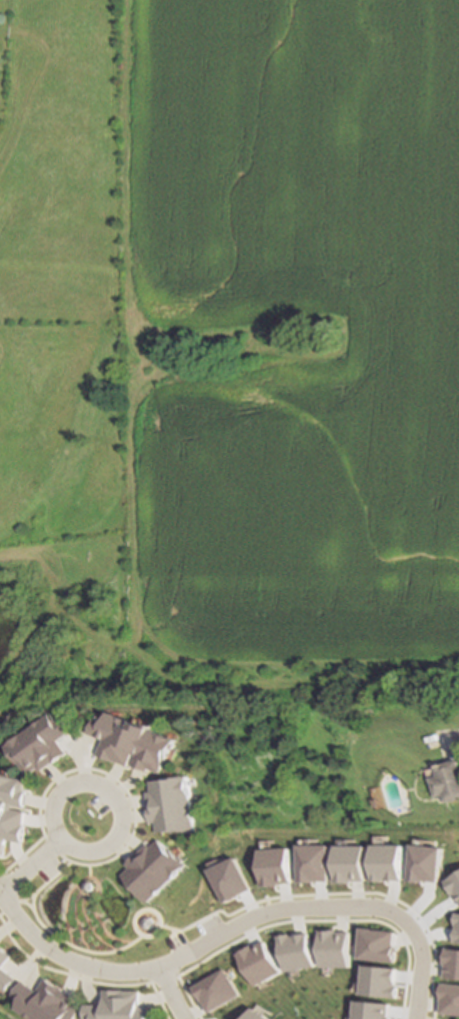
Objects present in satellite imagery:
road: (453, 733)
building: (132, 742)
building: (41, 744)
building: (445, 778)
road: (51, 804)
building: (170, 804)
building: (12, 818)
road: (27, 863)
building: (149, 868)
road: (321, 909)
building: (3, 956)
road: (65, 961)
building: (3, 977)
road: (164, 993)
building: (41, 1000)
building: (115, 1005)

